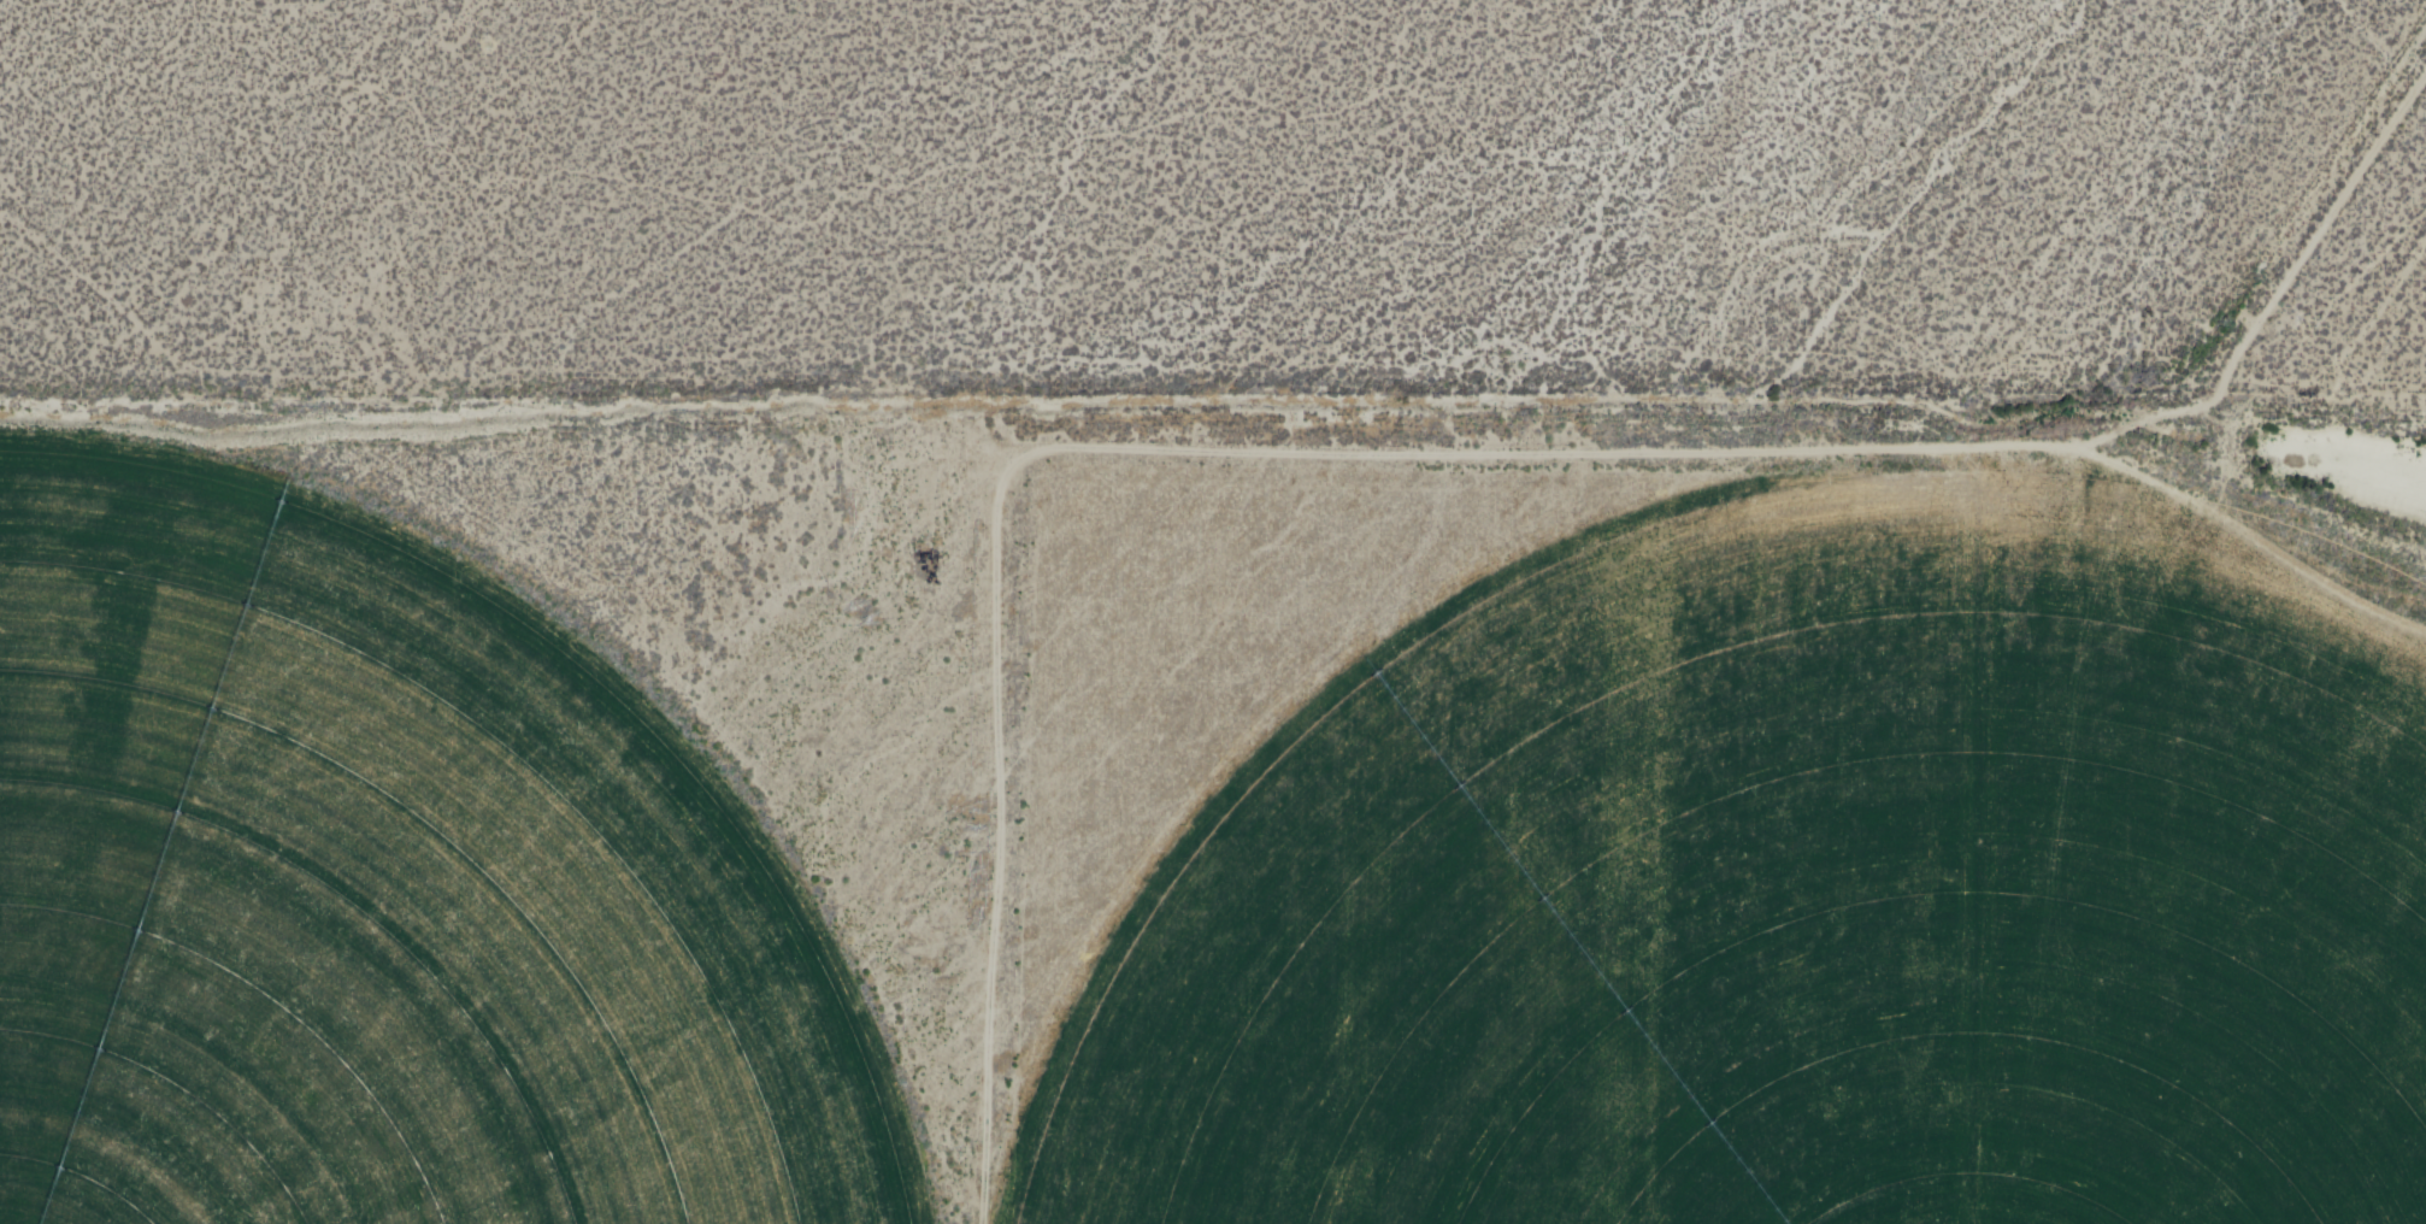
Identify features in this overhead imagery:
road: (2349, 345)
road: (1430, 459)
crop: (1792, 882)
crop: (381, 893)

